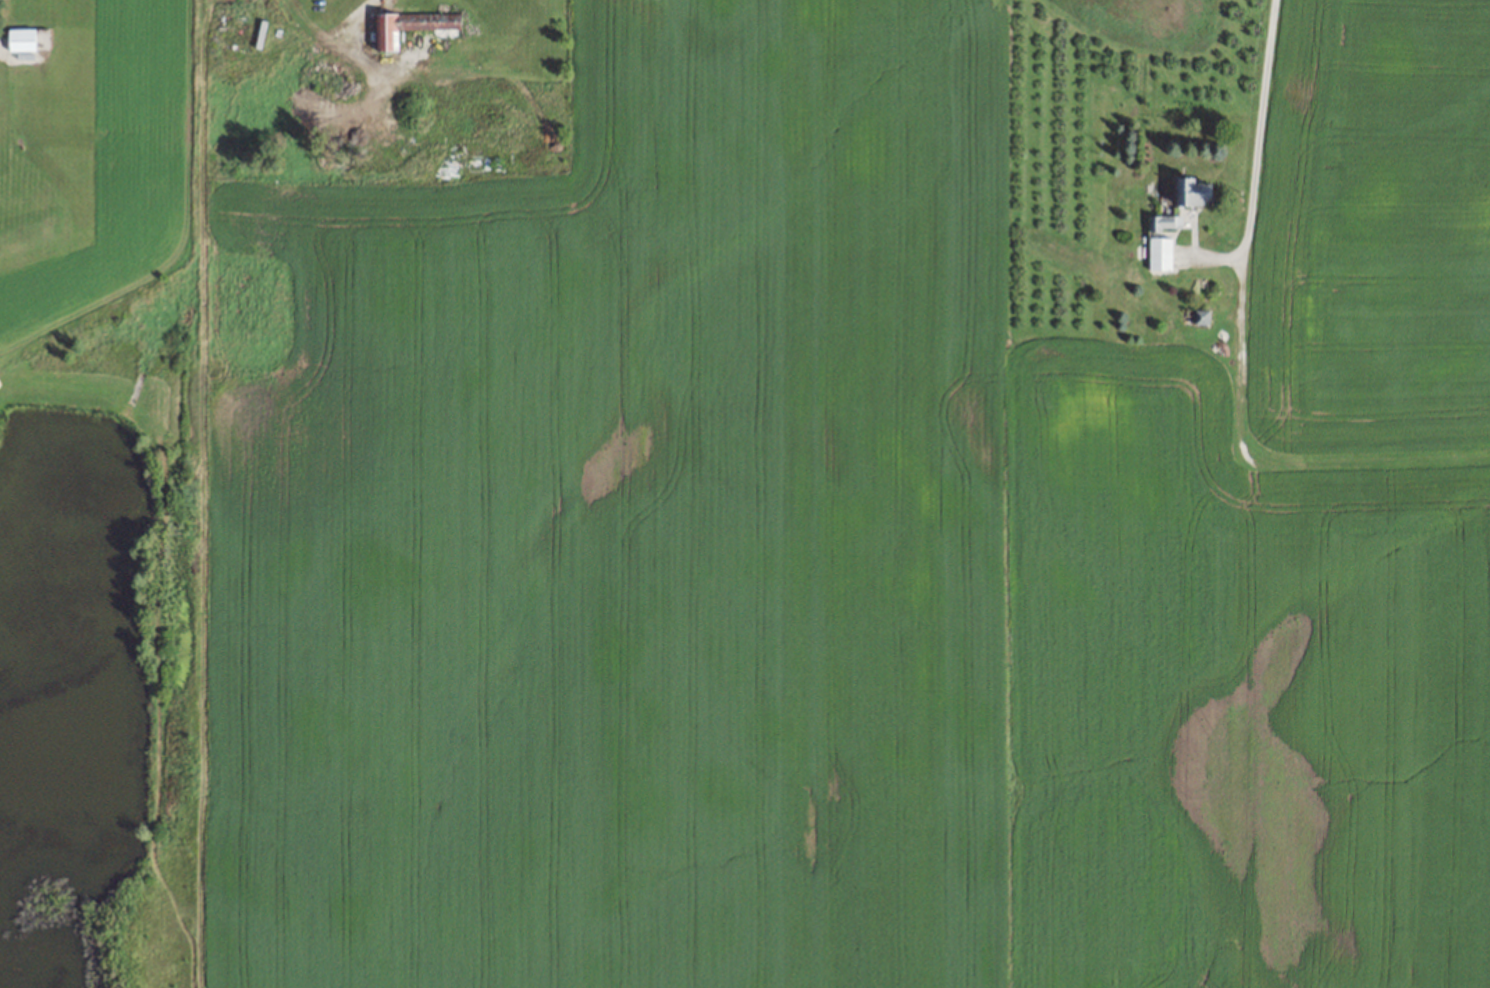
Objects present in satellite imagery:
building: (417, 24)
road: (329, 25)
building: (1193, 192)
building: (1163, 221)
building: (1159, 253)
building: (1200, 316)

